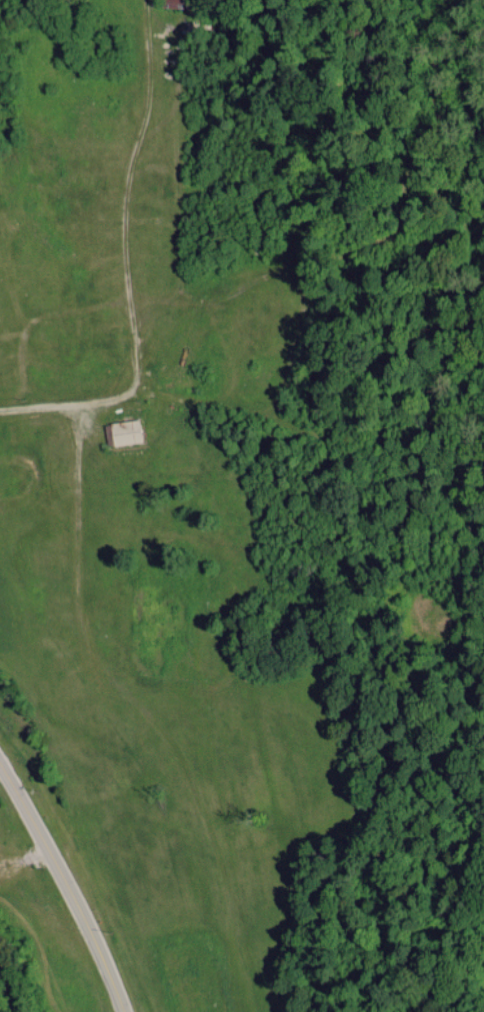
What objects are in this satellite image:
building: (131, 432)
road: (65, 887)

